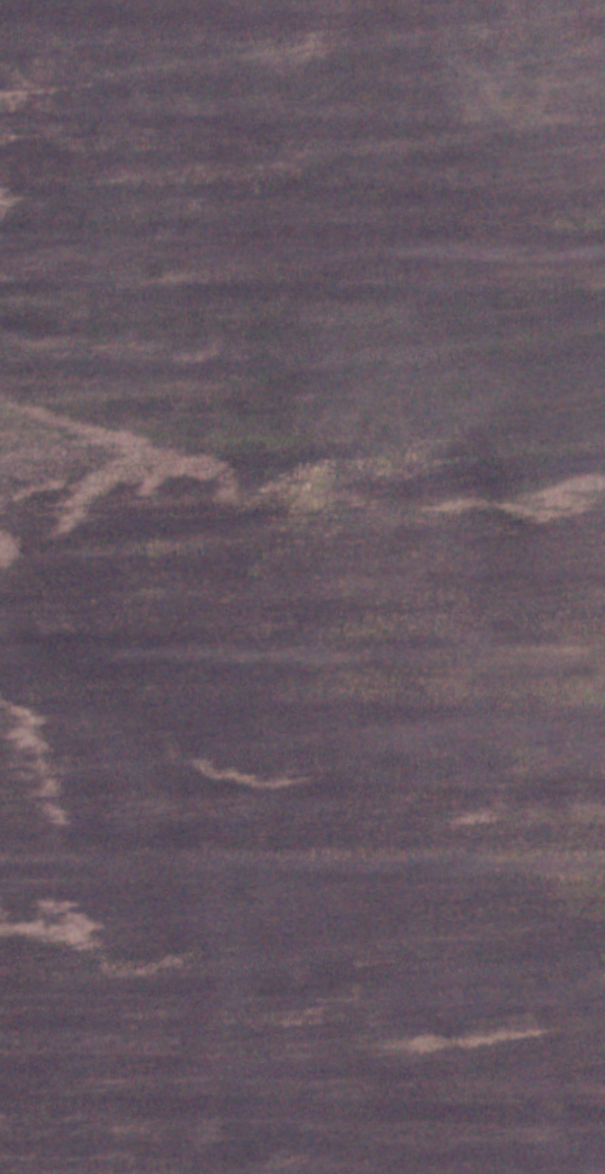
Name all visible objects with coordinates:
crop: (301, 225)
crop: (302, 812)

